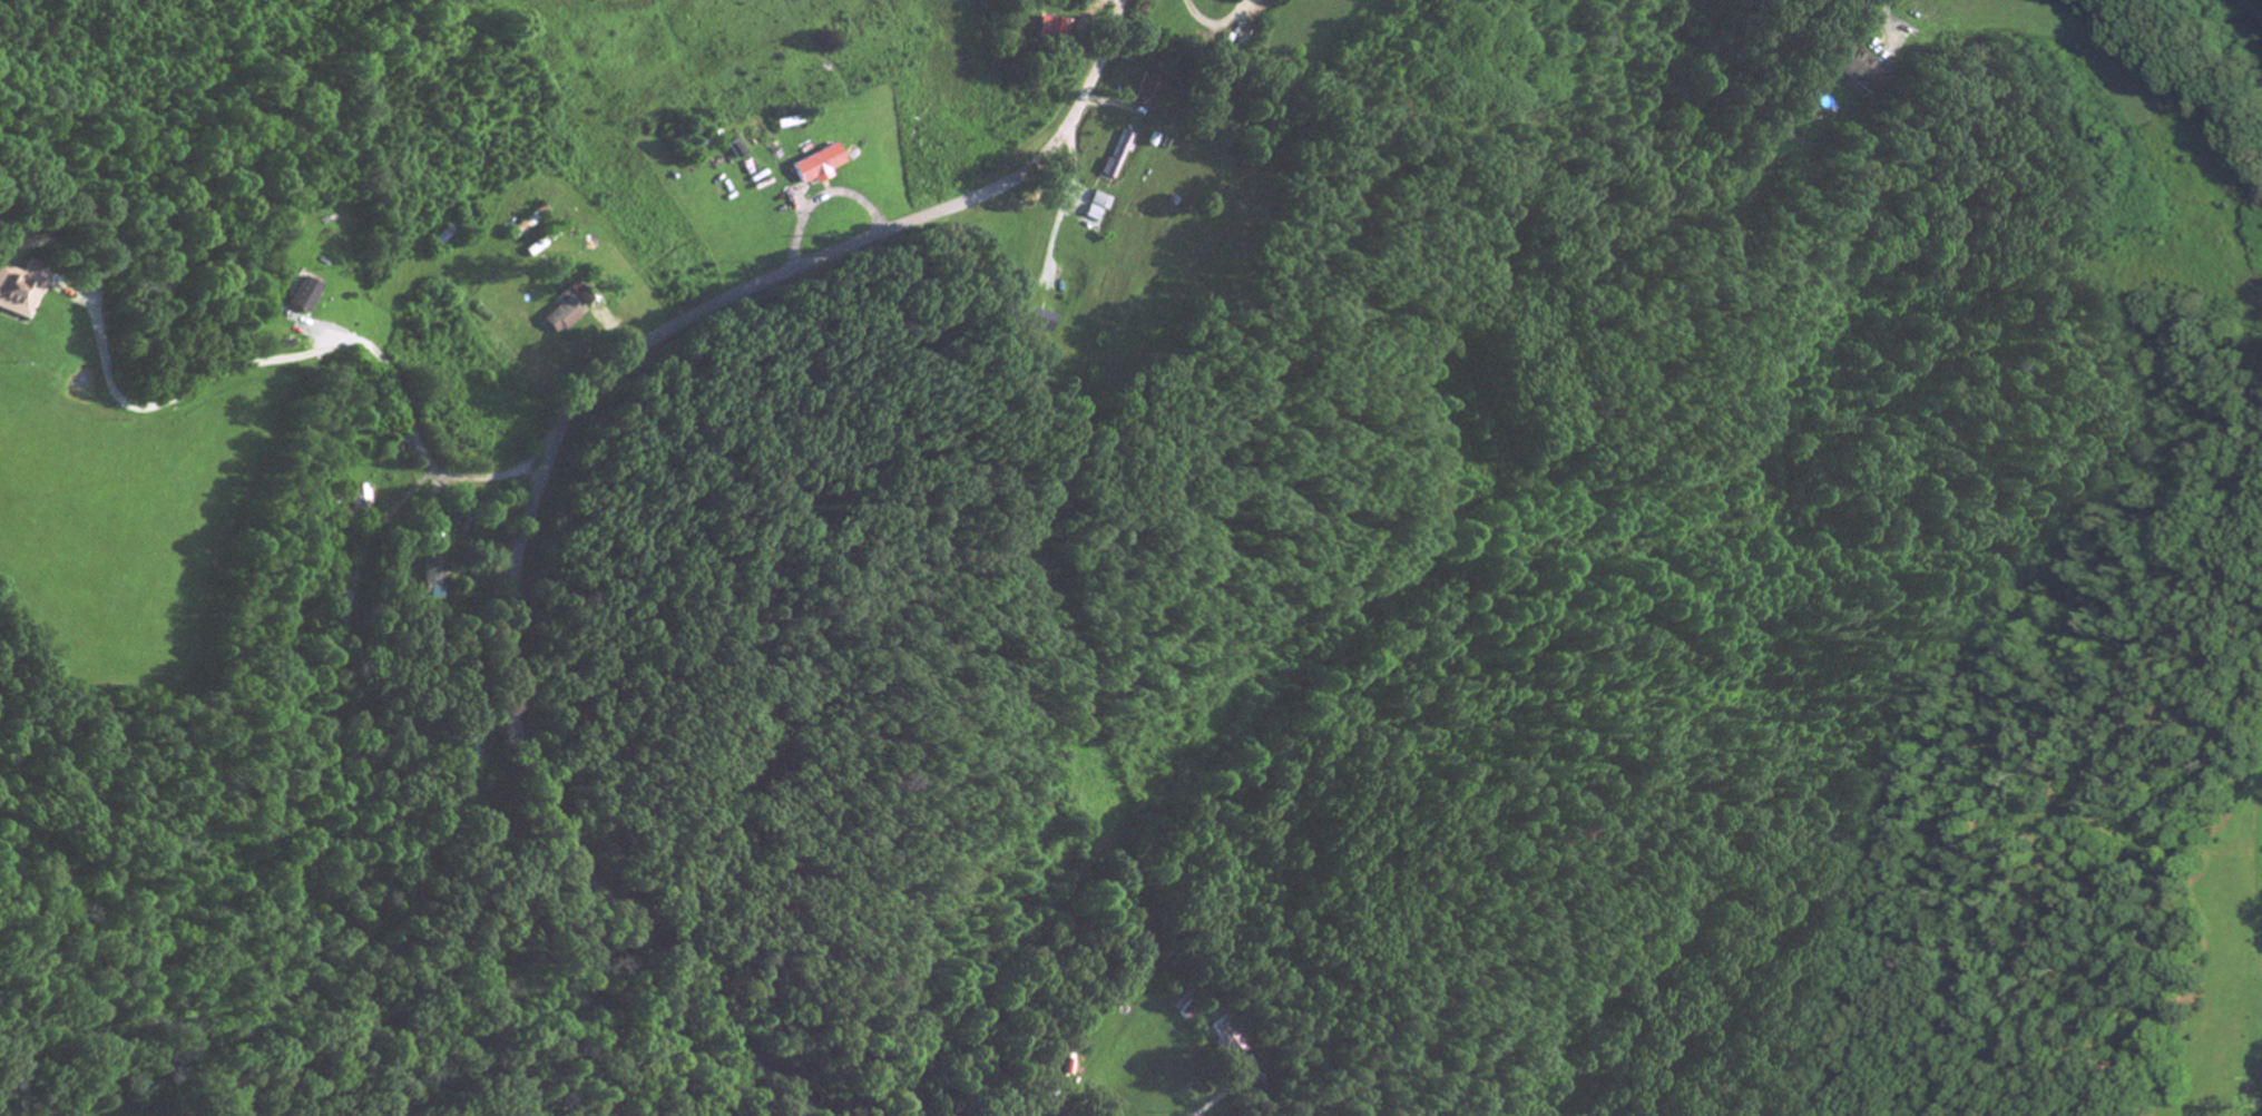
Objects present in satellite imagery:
road: (1891, 7)
building: (1058, 32)
building: (1863, 72)
building: (1156, 92)
building: (821, 167)
building: (21, 291)
building: (309, 297)
building: (574, 314)
road: (167, 402)
road: (427, 453)
road: (555, 456)
road: (537, 474)
building: (363, 499)
building: (442, 580)
building: (1237, 1039)
road: (1213, 1102)

